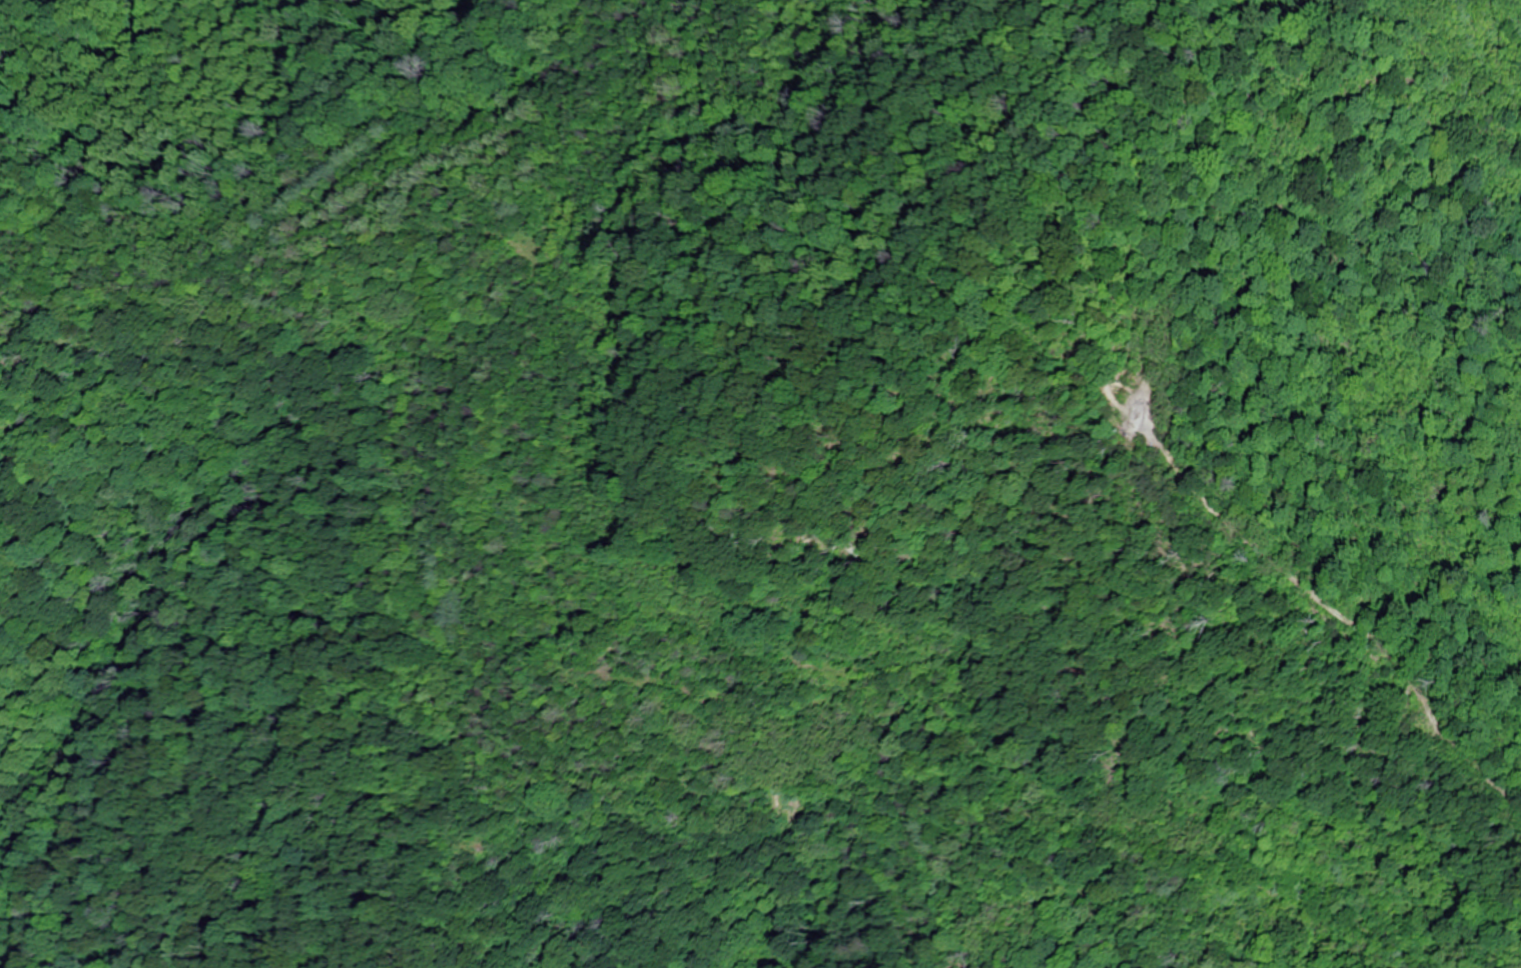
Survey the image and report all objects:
road: (1160, 462)

